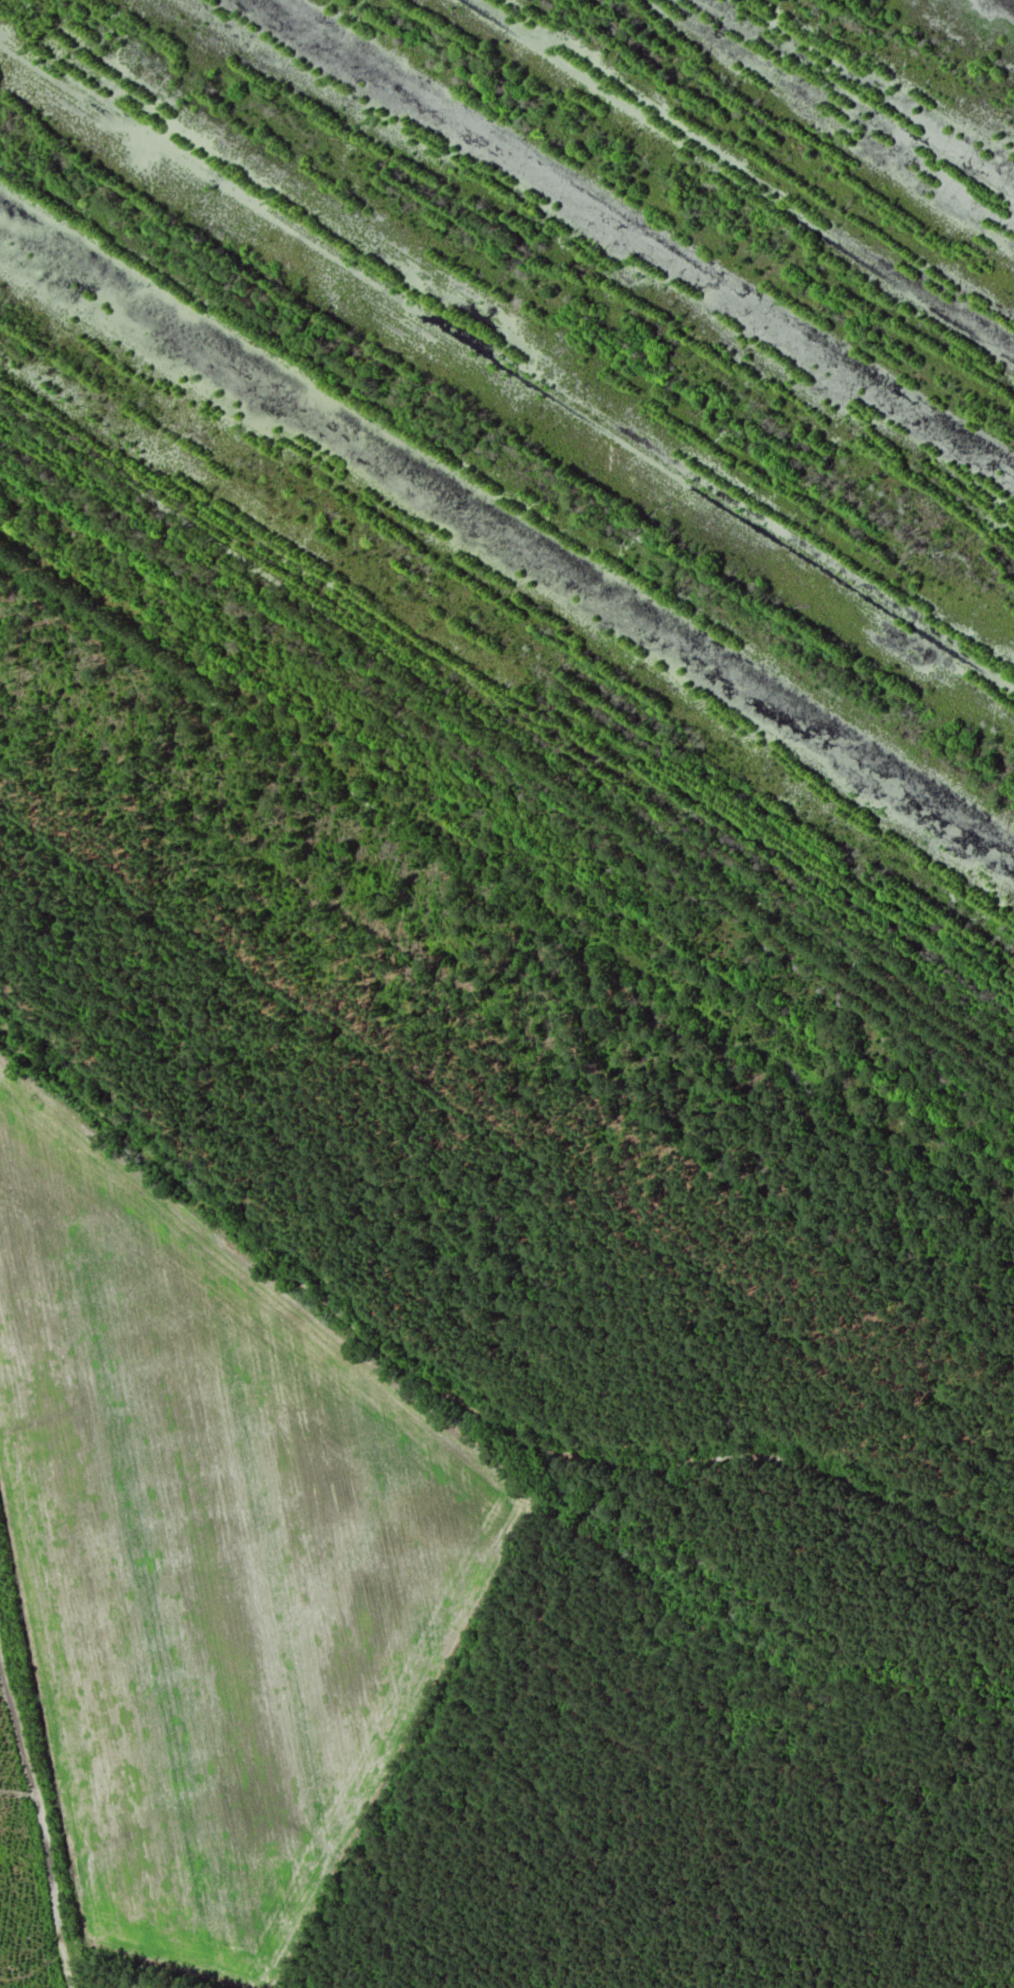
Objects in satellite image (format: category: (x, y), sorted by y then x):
road: (17, 1793)
road: (38, 1815)
road: (32, 1966)

